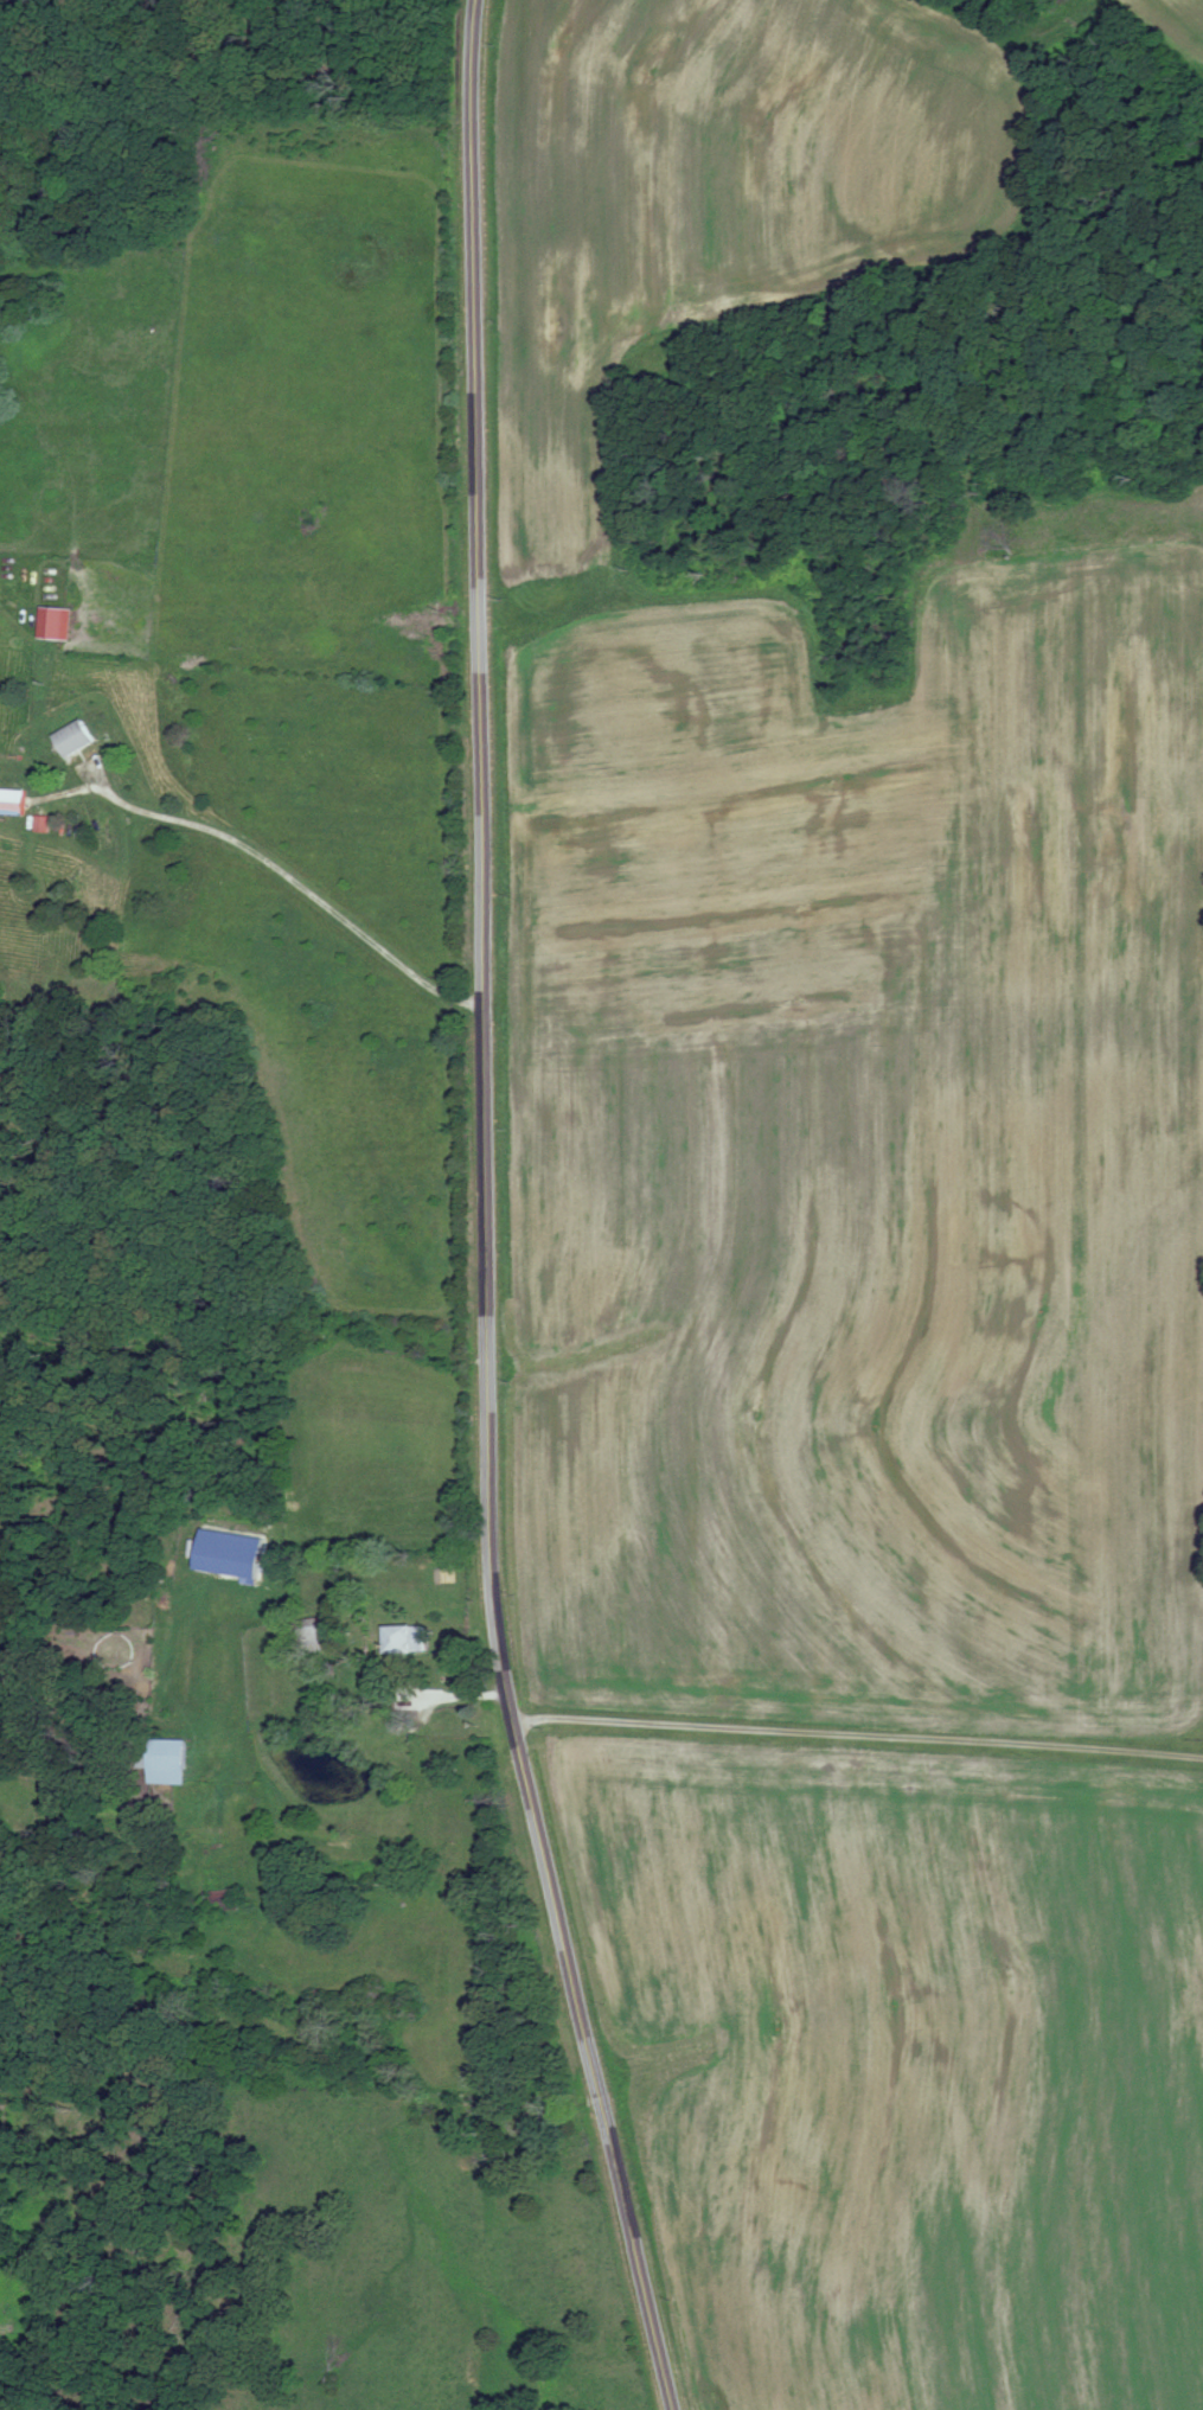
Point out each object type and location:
building: (77, 740)
building: (13, 803)
road: (274, 867)
road: (488, 1215)
building: (311, 1636)
building: (407, 1642)
road: (860, 1739)
building: (171, 1764)
building: (223, 1903)

